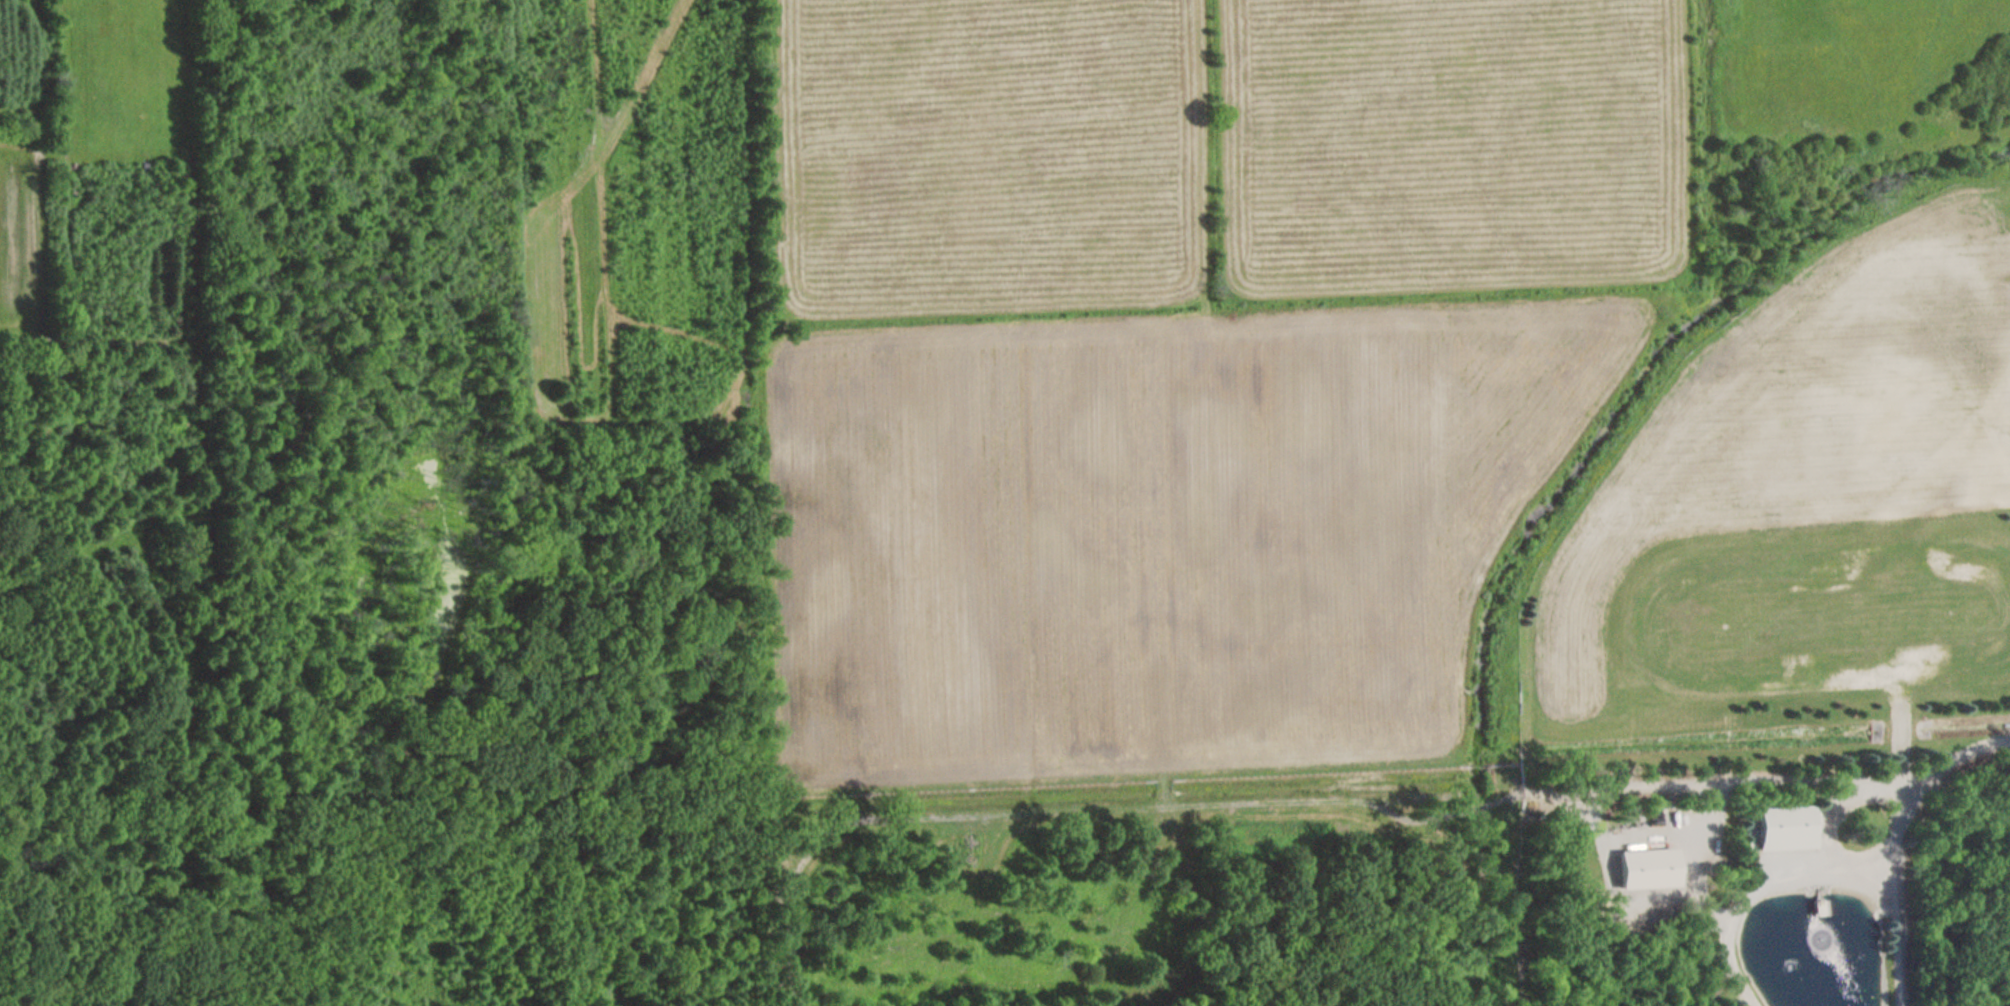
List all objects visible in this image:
building: (1782, 828)
road: (1821, 845)
road: (1856, 862)
road: (1893, 893)

